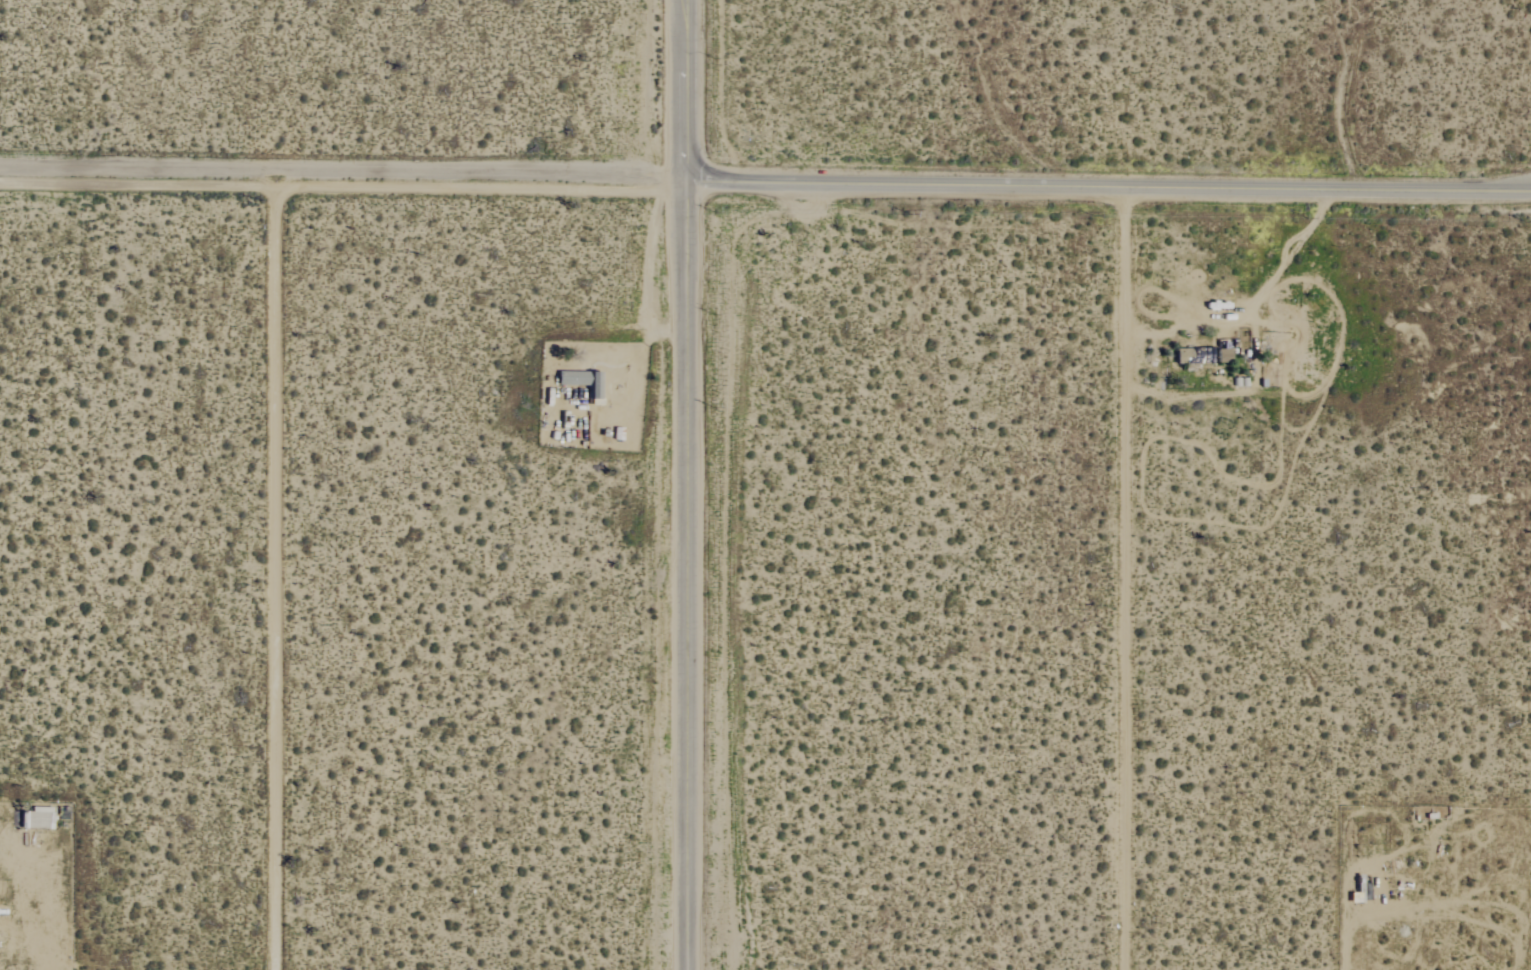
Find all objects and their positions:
road: (686, 92)
road: (343, 173)
road: (1108, 187)
road: (1252, 299)
building: (580, 381)
road: (276, 570)
road: (687, 577)
road: (1123, 578)

